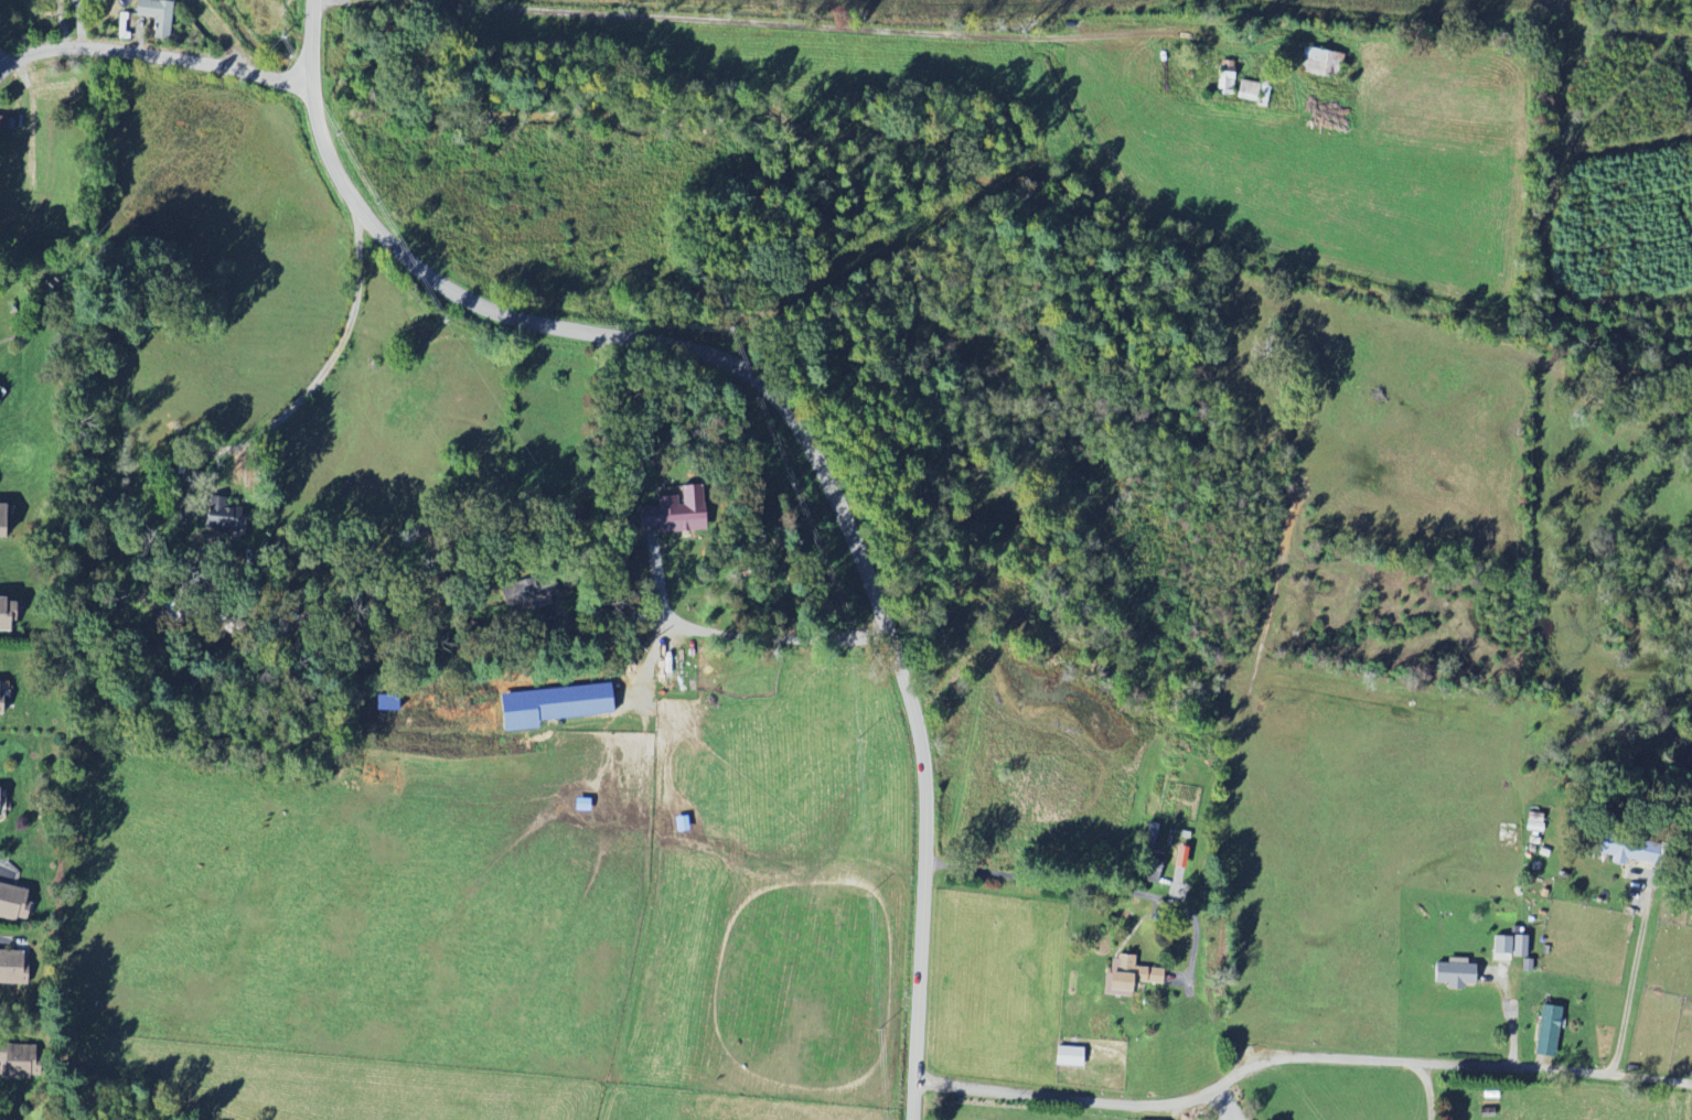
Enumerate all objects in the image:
building: (159, 15)
road: (153, 55)
building: (1319, 63)
road: (314, 384)
building: (1, 400)
road: (792, 424)
road: (588, 482)
building: (688, 516)
building: (229, 518)
building: (7, 520)
building: (548, 602)
building: (9, 613)
road: (733, 635)
building: (2, 697)
building: (558, 704)
building: (1, 803)
building: (1149, 870)
road: (1099, 885)
building: (15, 902)
road: (0, 938)
building: (1508, 945)
building: (14, 967)
road: (1635, 968)
building: (1452, 973)
building: (1126, 974)
road: (1510, 1012)
building: (1544, 1030)
building: (1065, 1055)
building: (23, 1062)
road: (1257, 1063)
road: (1650, 1078)
road: (1429, 1089)
road: (1225, 1101)

